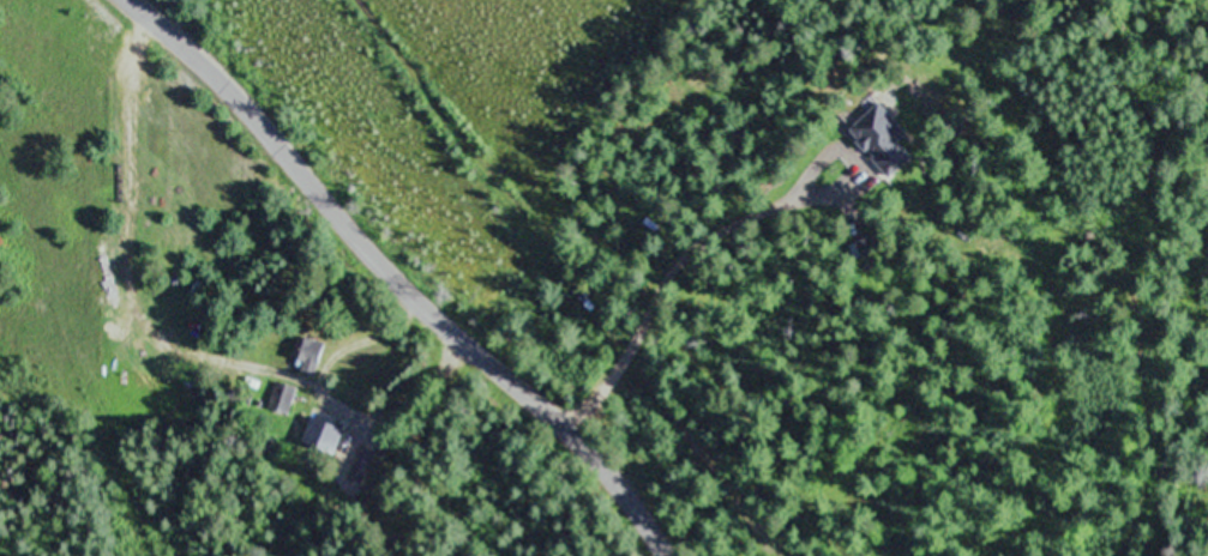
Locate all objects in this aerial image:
building: (883, 139)
road: (408, 278)
building: (308, 352)
building: (282, 398)
building: (324, 435)

